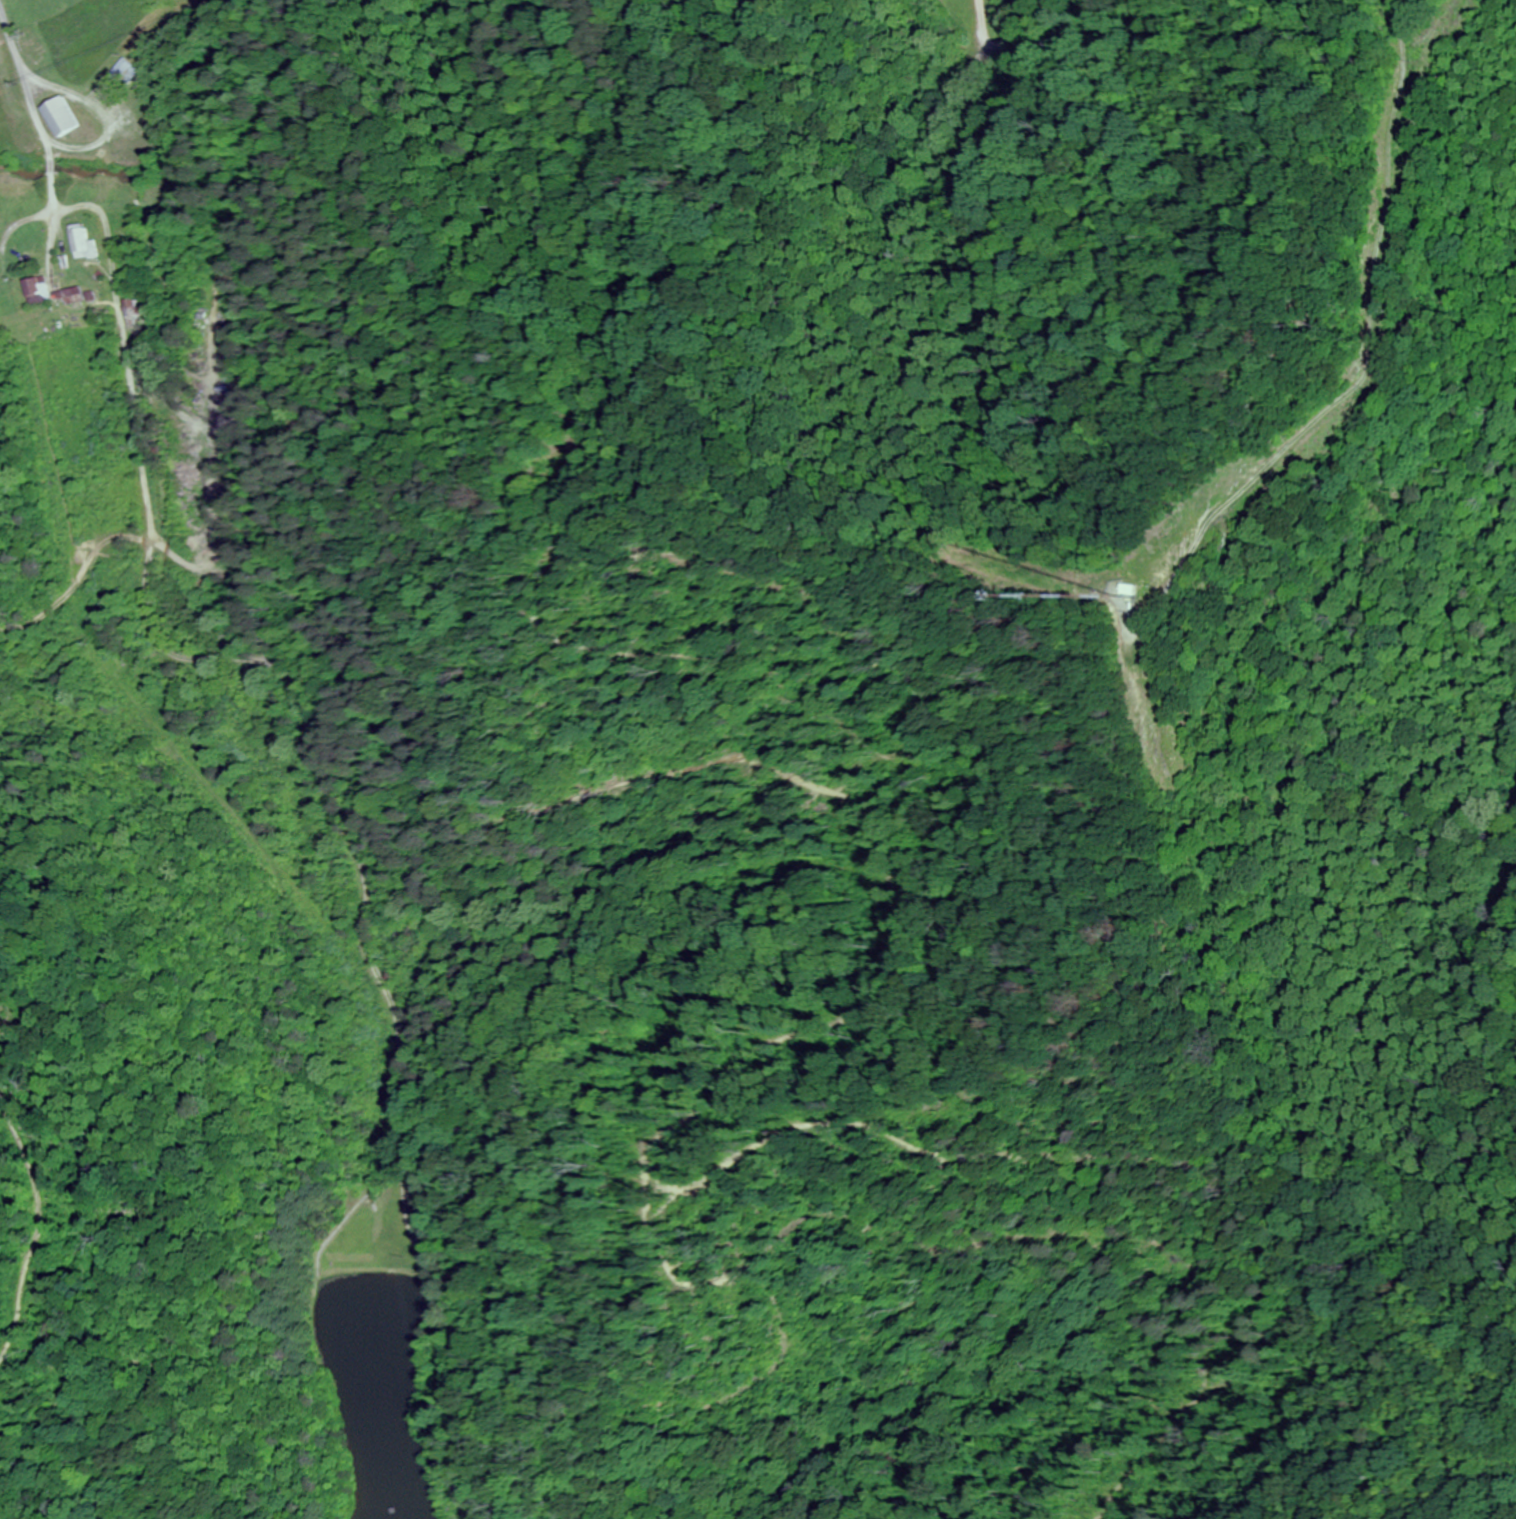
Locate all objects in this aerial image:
road: (12, 42)
building: (125, 75)
building: (67, 117)
building: (85, 244)
building: (53, 293)
building: (130, 314)
building: (1139, 589)

